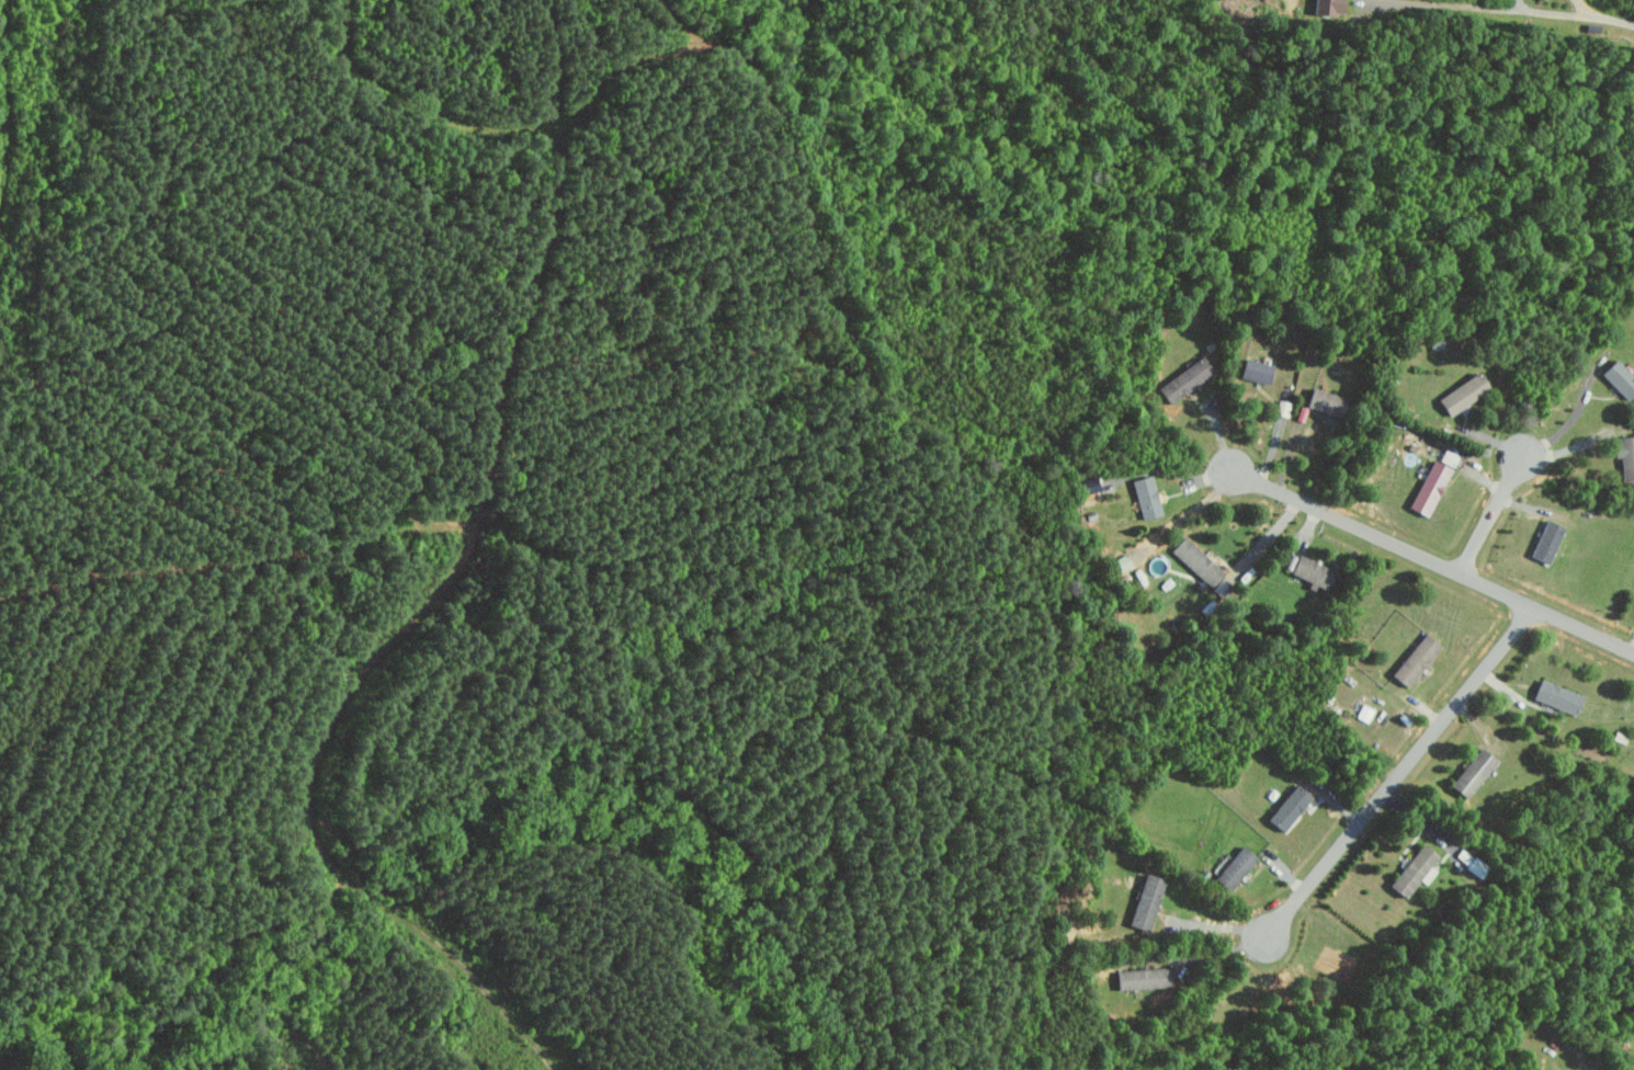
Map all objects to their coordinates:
building: (1325, 8)
road: (1497, 9)
building: (1255, 369)
building: (1619, 377)
building: (1185, 379)
building: (1461, 392)
building: (1321, 400)
building: (1283, 408)
road: (1575, 416)
building: (1625, 455)
building: (1448, 456)
building: (1428, 487)
building: (1146, 497)
road: (1494, 513)
road: (1264, 540)
building: (1545, 540)
building: (1194, 560)
road: (1433, 561)
building: (1308, 569)
building: (1414, 659)
building: (1555, 696)
building: (1364, 713)
road: (1402, 772)
building: (1470, 772)
building: (1287, 807)
building: (1470, 862)
building: (1234, 867)
building: (1414, 869)
building: (1145, 901)
road: (1218, 924)
building: (1144, 978)

